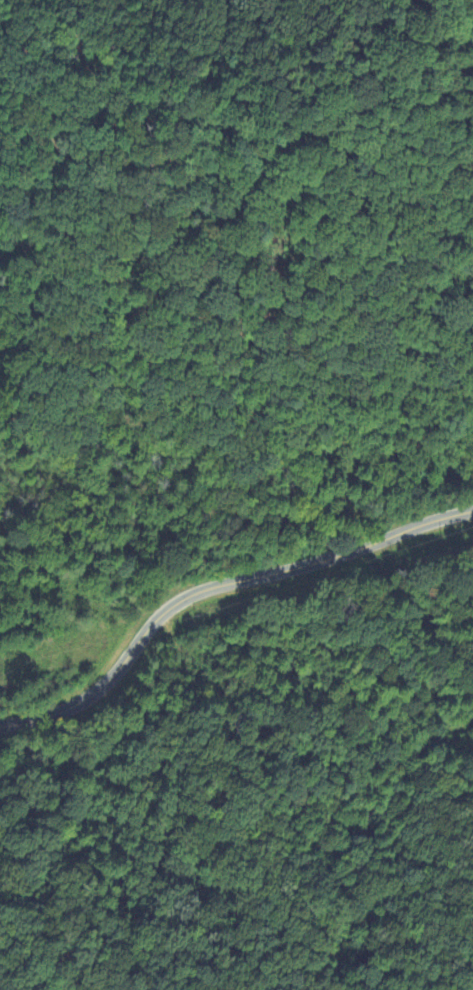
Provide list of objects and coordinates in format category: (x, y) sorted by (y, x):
road: (215, 588)

